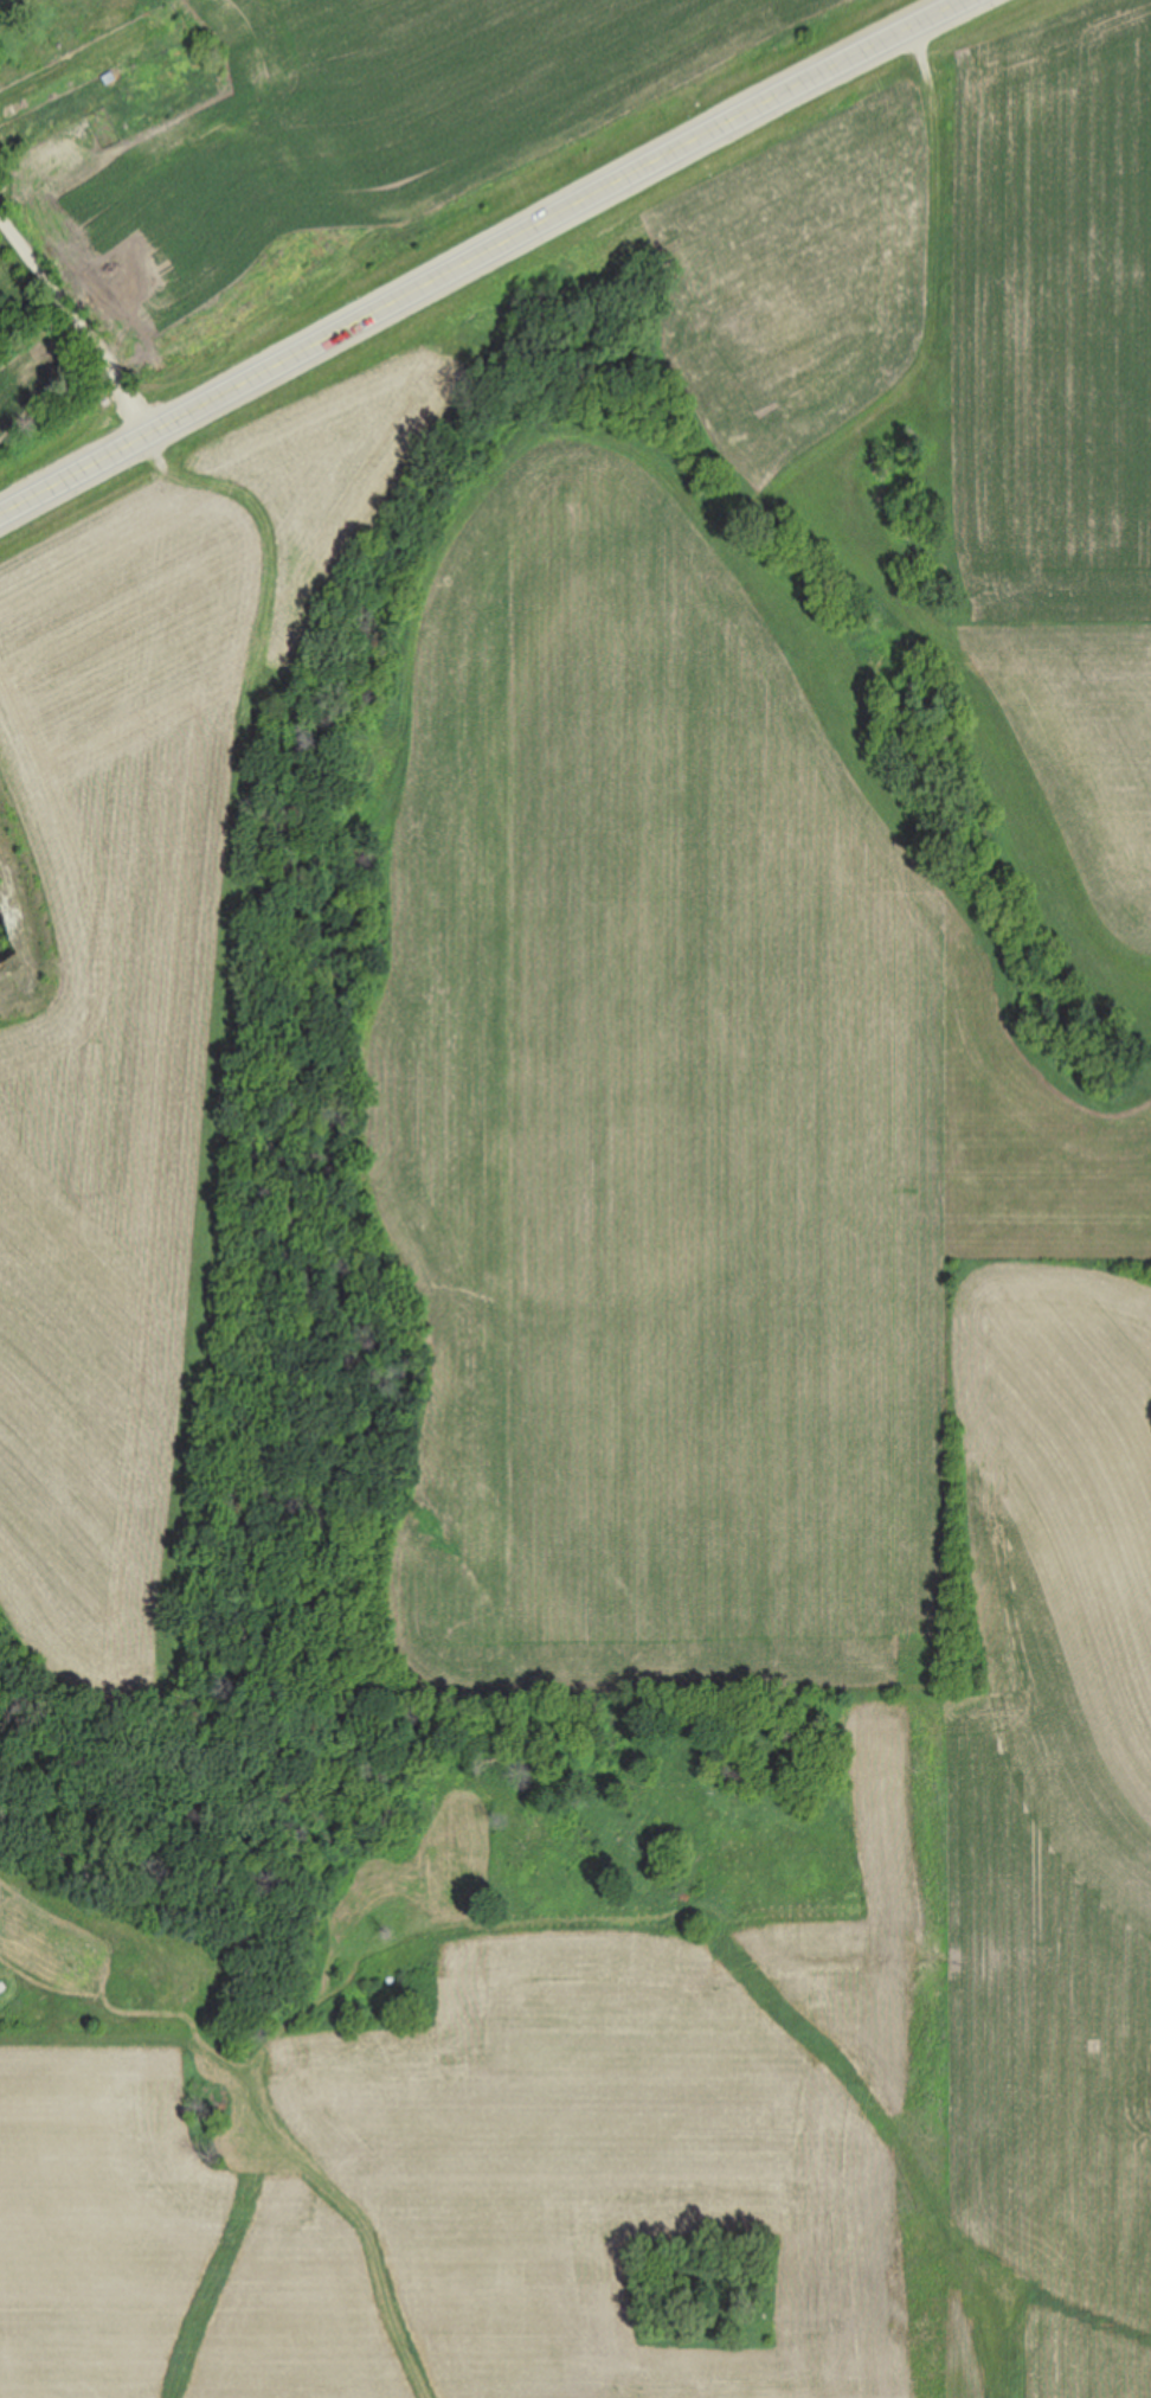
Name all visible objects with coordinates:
road: (487, 257)
road: (78, 325)

